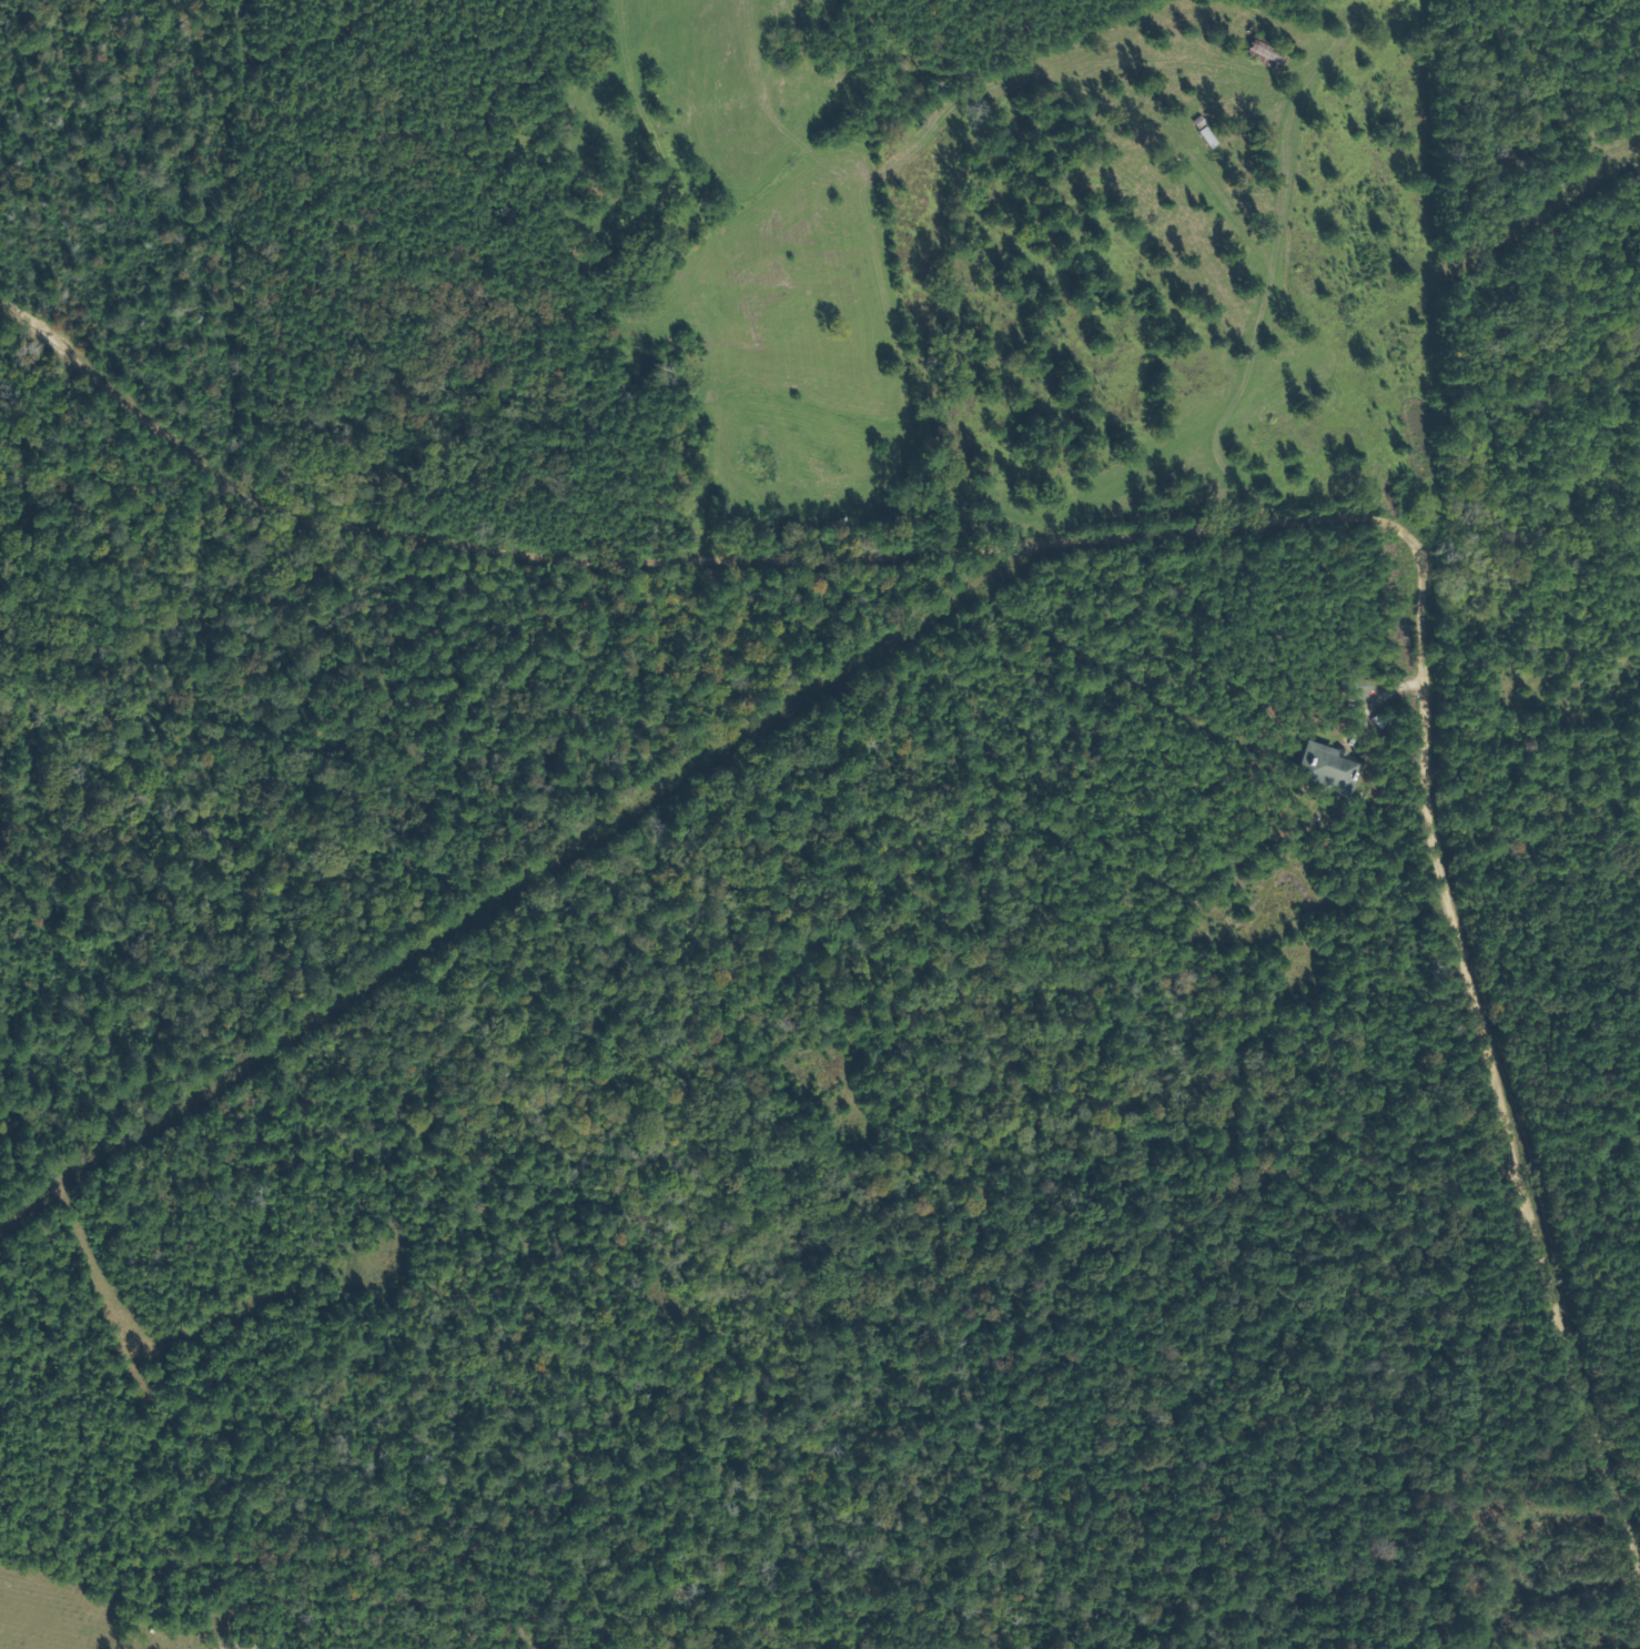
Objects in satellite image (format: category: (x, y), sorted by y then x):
building: (1262, 53)
road: (1308, 346)
road: (1229, 547)
building: (1360, 686)
building: (1330, 767)

